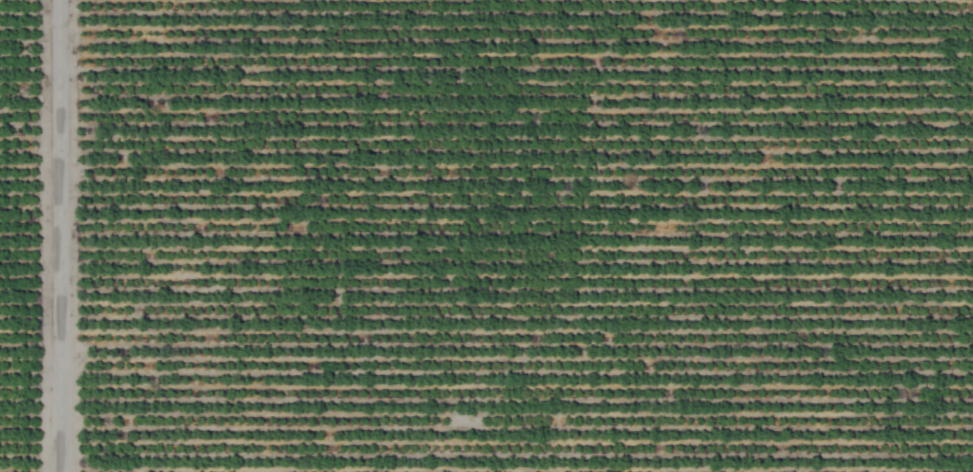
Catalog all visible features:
road: (52, 236)
crop: (486, 236)

